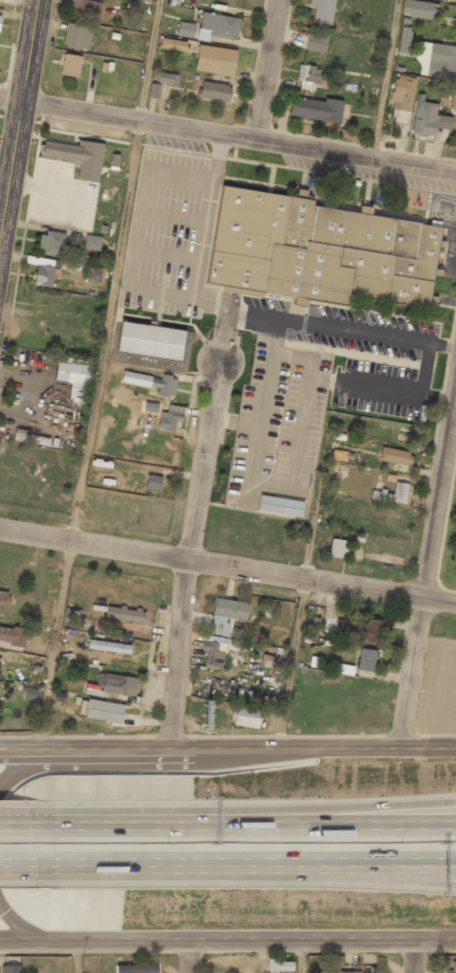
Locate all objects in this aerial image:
building: (416, 8)
building: (84, 9)
building: (323, 12)
building: (216, 26)
building: (185, 29)
building: (76, 36)
building: (404, 40)
building: (315, 42)
building: (172, 44)
building: (215, 60)
building: (436, 61)
building: (70, 65)
road: (269, 69)
building: (308, 77)
building: (165, 78)
road: (384, 79)
building: (153, 90)
building: (214, 91)
building: (402, 92)
building: (453, 99)
building: (315, 109)
road: (19, 117)
building: (427, 118)
road: (228, 133)
building: (76, 156)
building: (113, 160)
building: (91, 242)
building: (51, 243)
building: (319, 251)
building: (41, 270)
building: (151, 342)
road: (98, 373)
building: (74, 380)
building: (150, 382)
building: (149, 407)
building: (169, 417)
building: (338, 455)
building: (395, 456)
building: (100, 464)
building: (106, 481)
building: (152, 482)
road: (438, 489)
building: (391, 494)
building: (279, 505)
road: (313, 522)
building: (337, 548)
park: (450, 550)
road: (187, 556)
road: (210, 565)
road: (438, 600)
building: (3, 601)
building: (124, 614)
building: (226, 615)
building: (359, 630)
building: (12, 635)
building: (108, 646)
building: (214, 650)
building: (365, 660)
road: (408, 672)
building: (116, 684)
building: (103, 711)
building: (246, 717)
road: (227, 746)
road: (27, 759)
road: (305, 813)
road: (9, 828)
road: (237, 828)
road: (10, 868)
road: (238, 868)
road: (394, 875)
road: (16, 924)
road: (227, 938)
road: (185, 955)
road: (301, 955)
road: (413, 956)
road: (78, 958)
building: (279, 966)
building: (136, 968)
building: (451, 968)
building: (10, 969)
building: (337, 971)

